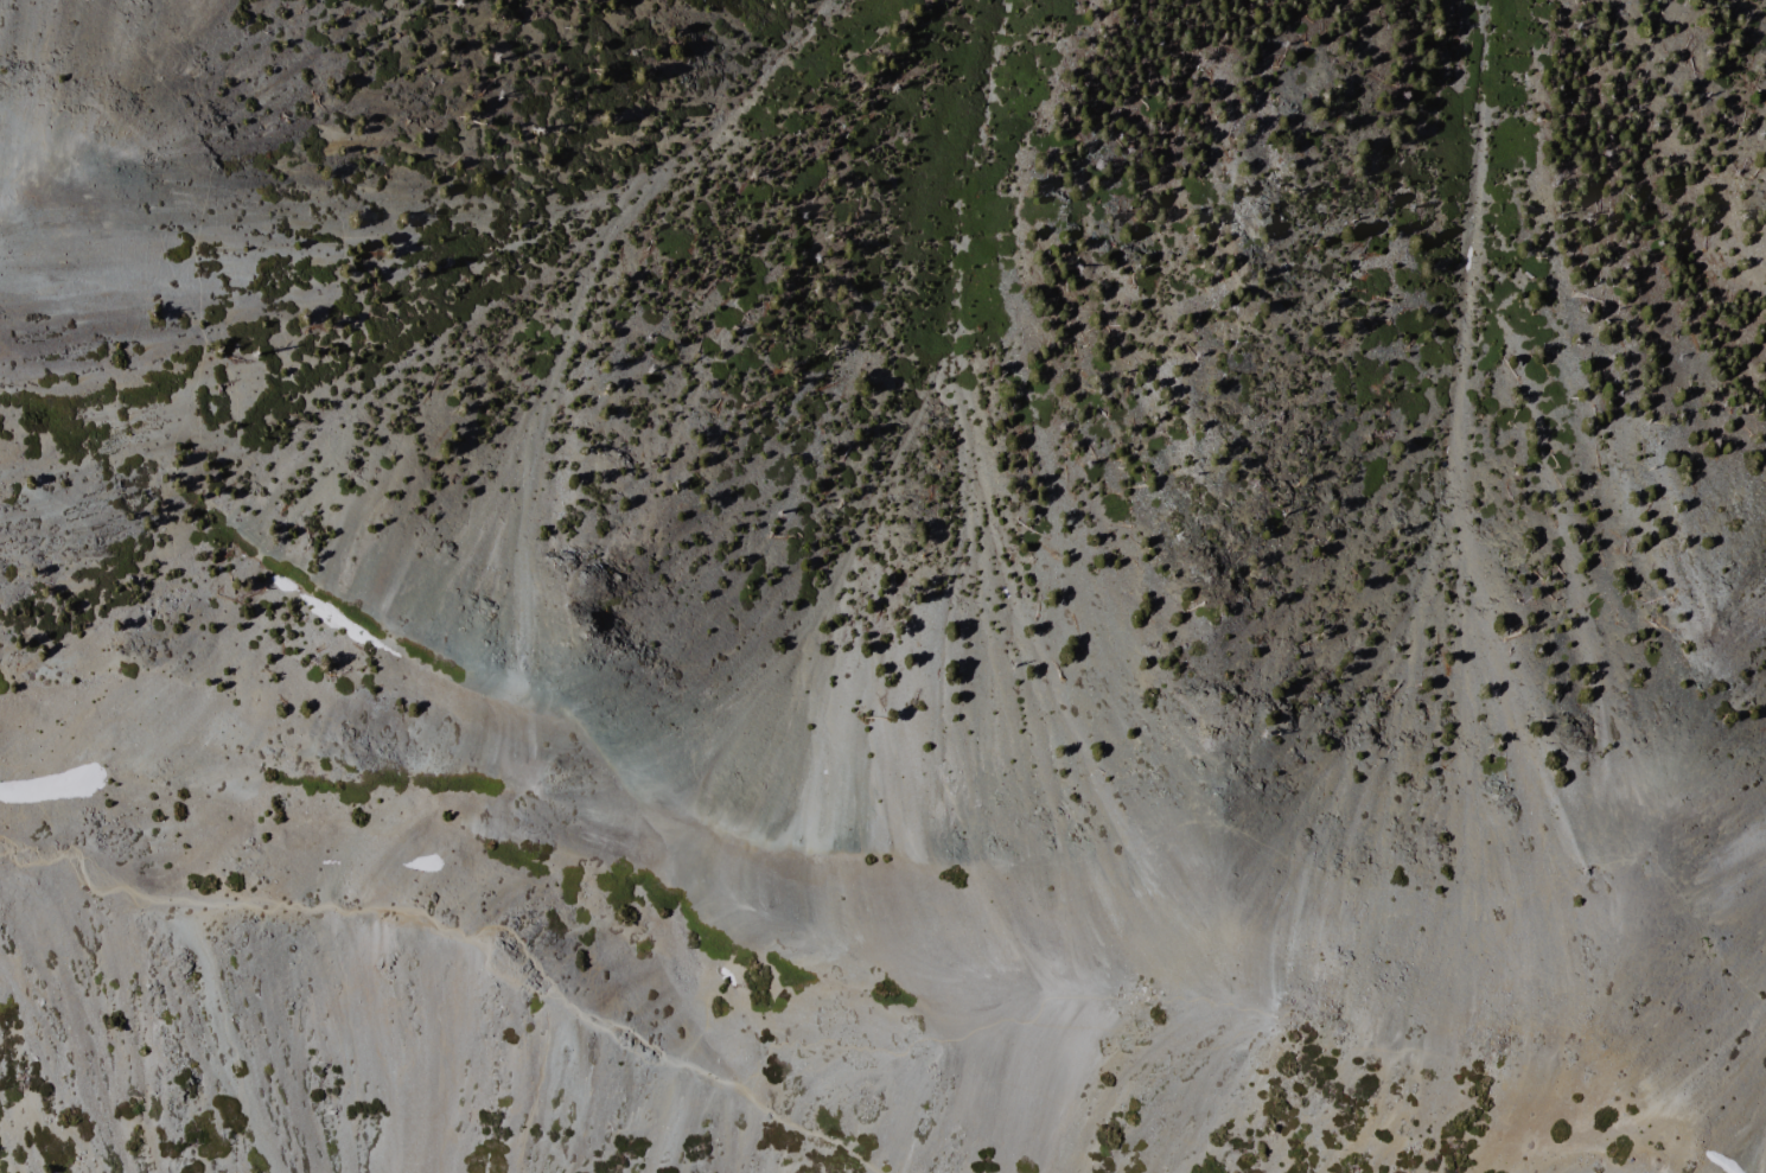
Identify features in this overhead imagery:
road: (438, 924)
road: (1205, 999)

